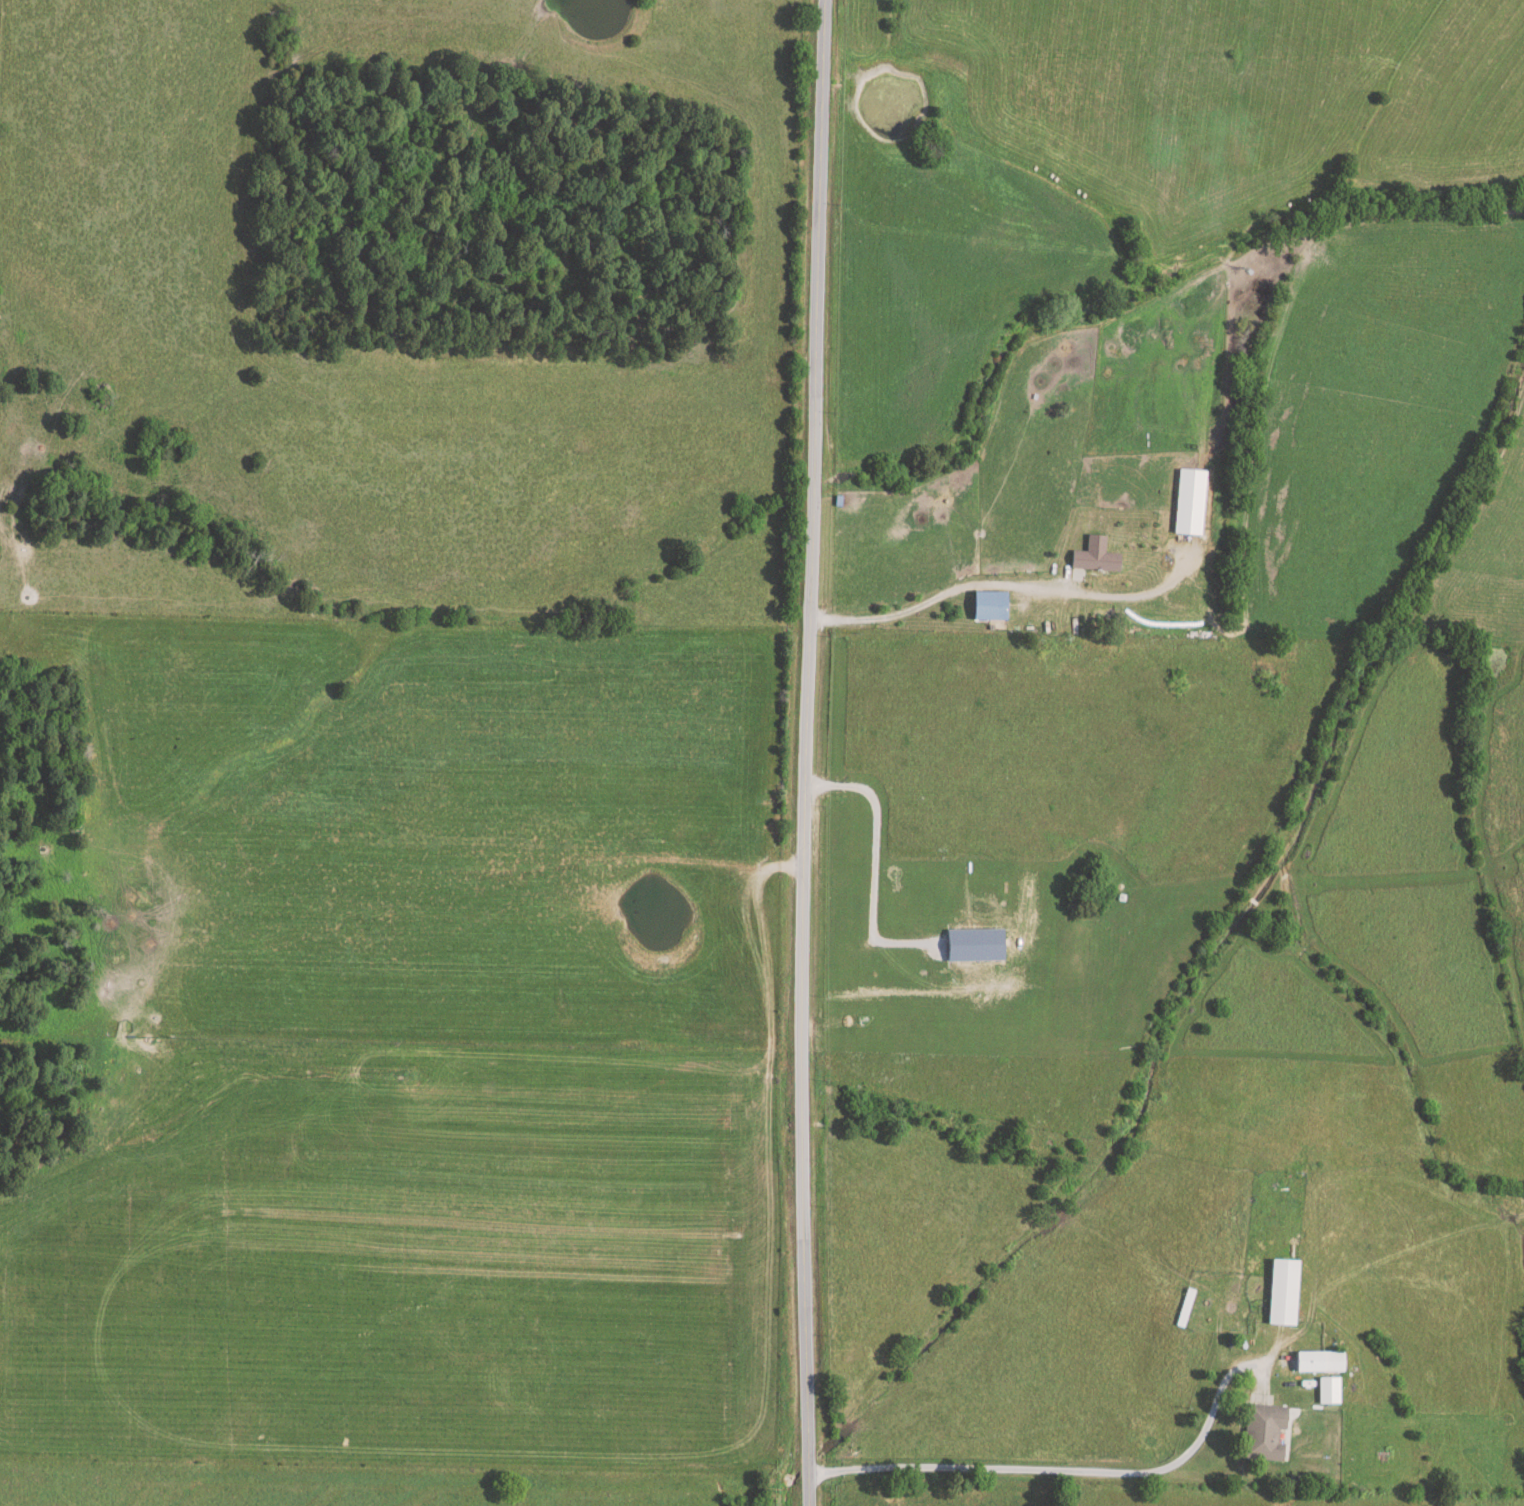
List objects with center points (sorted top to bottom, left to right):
building: (1188, 500)
building: (1094, 554)
road: (935, 599)
building: (989, 604)
road: (802, 752)
building: (1282, 1291)
building: (1319, 1361)
building: (1328, 1390)
building: (1263, 1431)
road: (1061, 1473)

